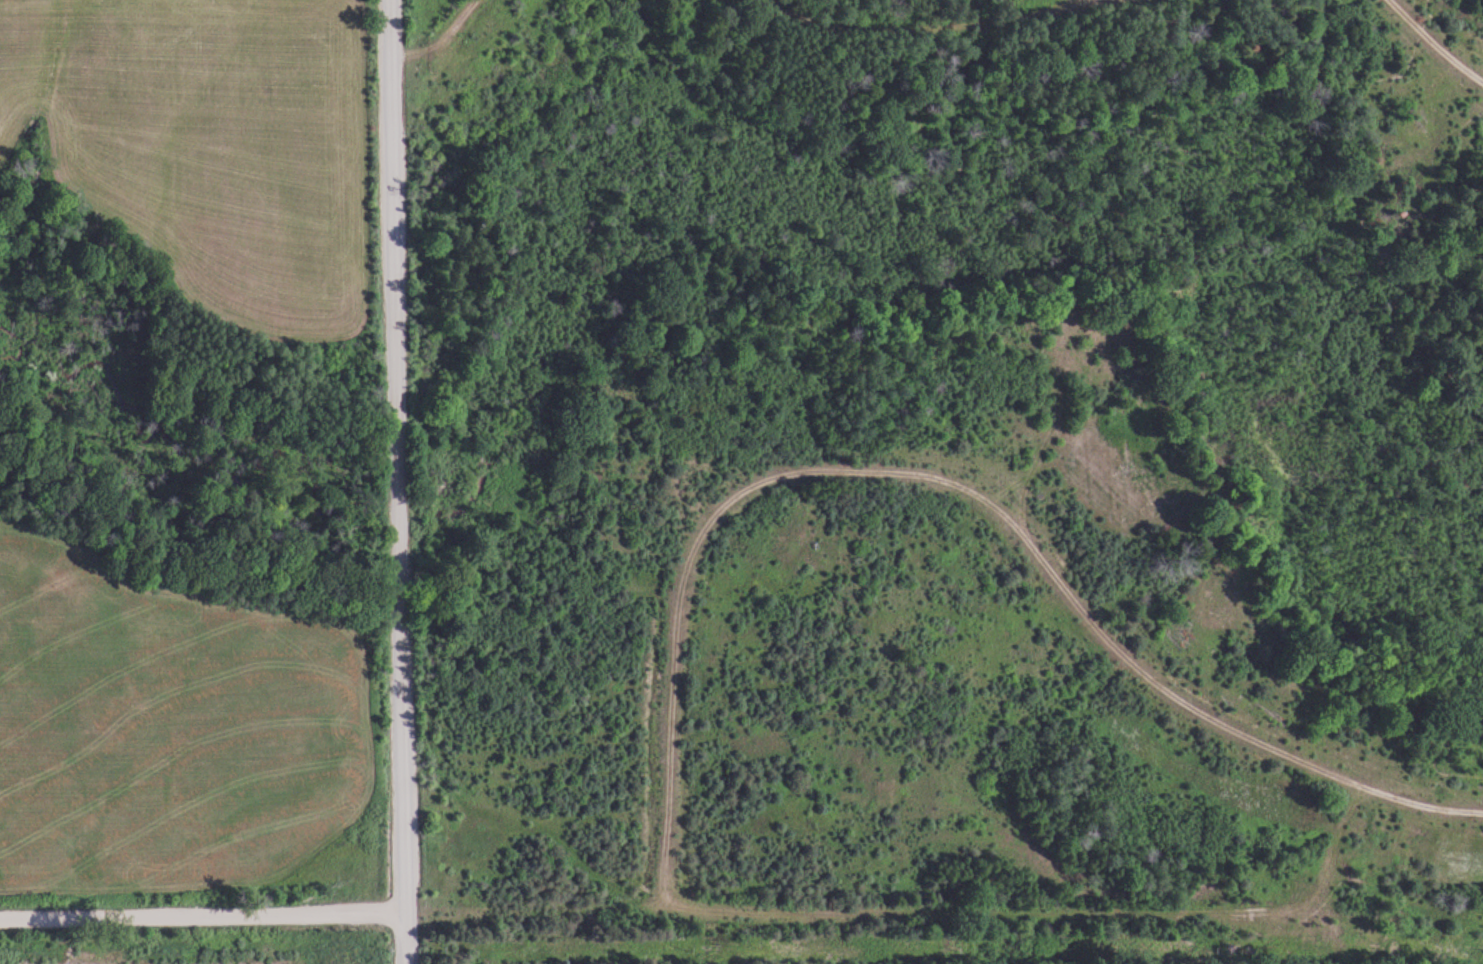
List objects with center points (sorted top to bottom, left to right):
road: (943, 55)
road: (398, 457)
road: (947, 486)
road: (1056, 916)
road: (203, 918)
road: (406, 939)

